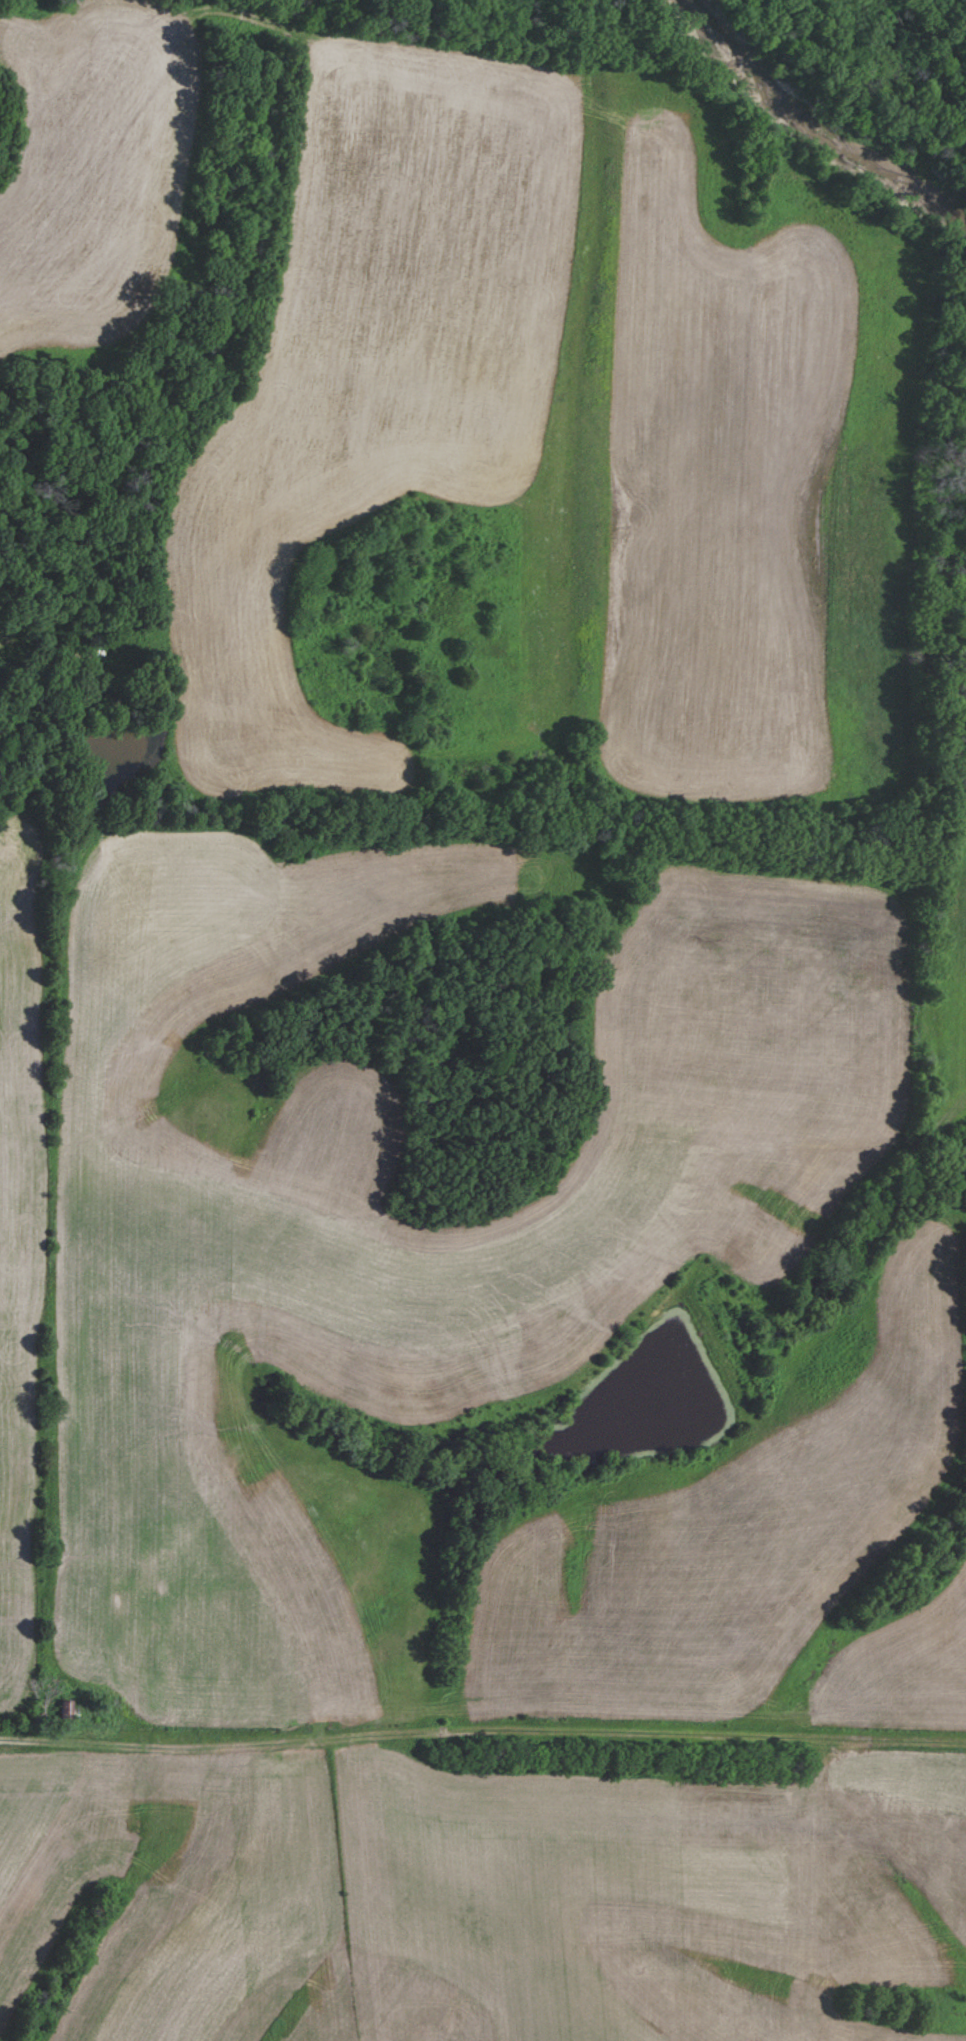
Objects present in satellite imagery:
building: (60, 1708)

